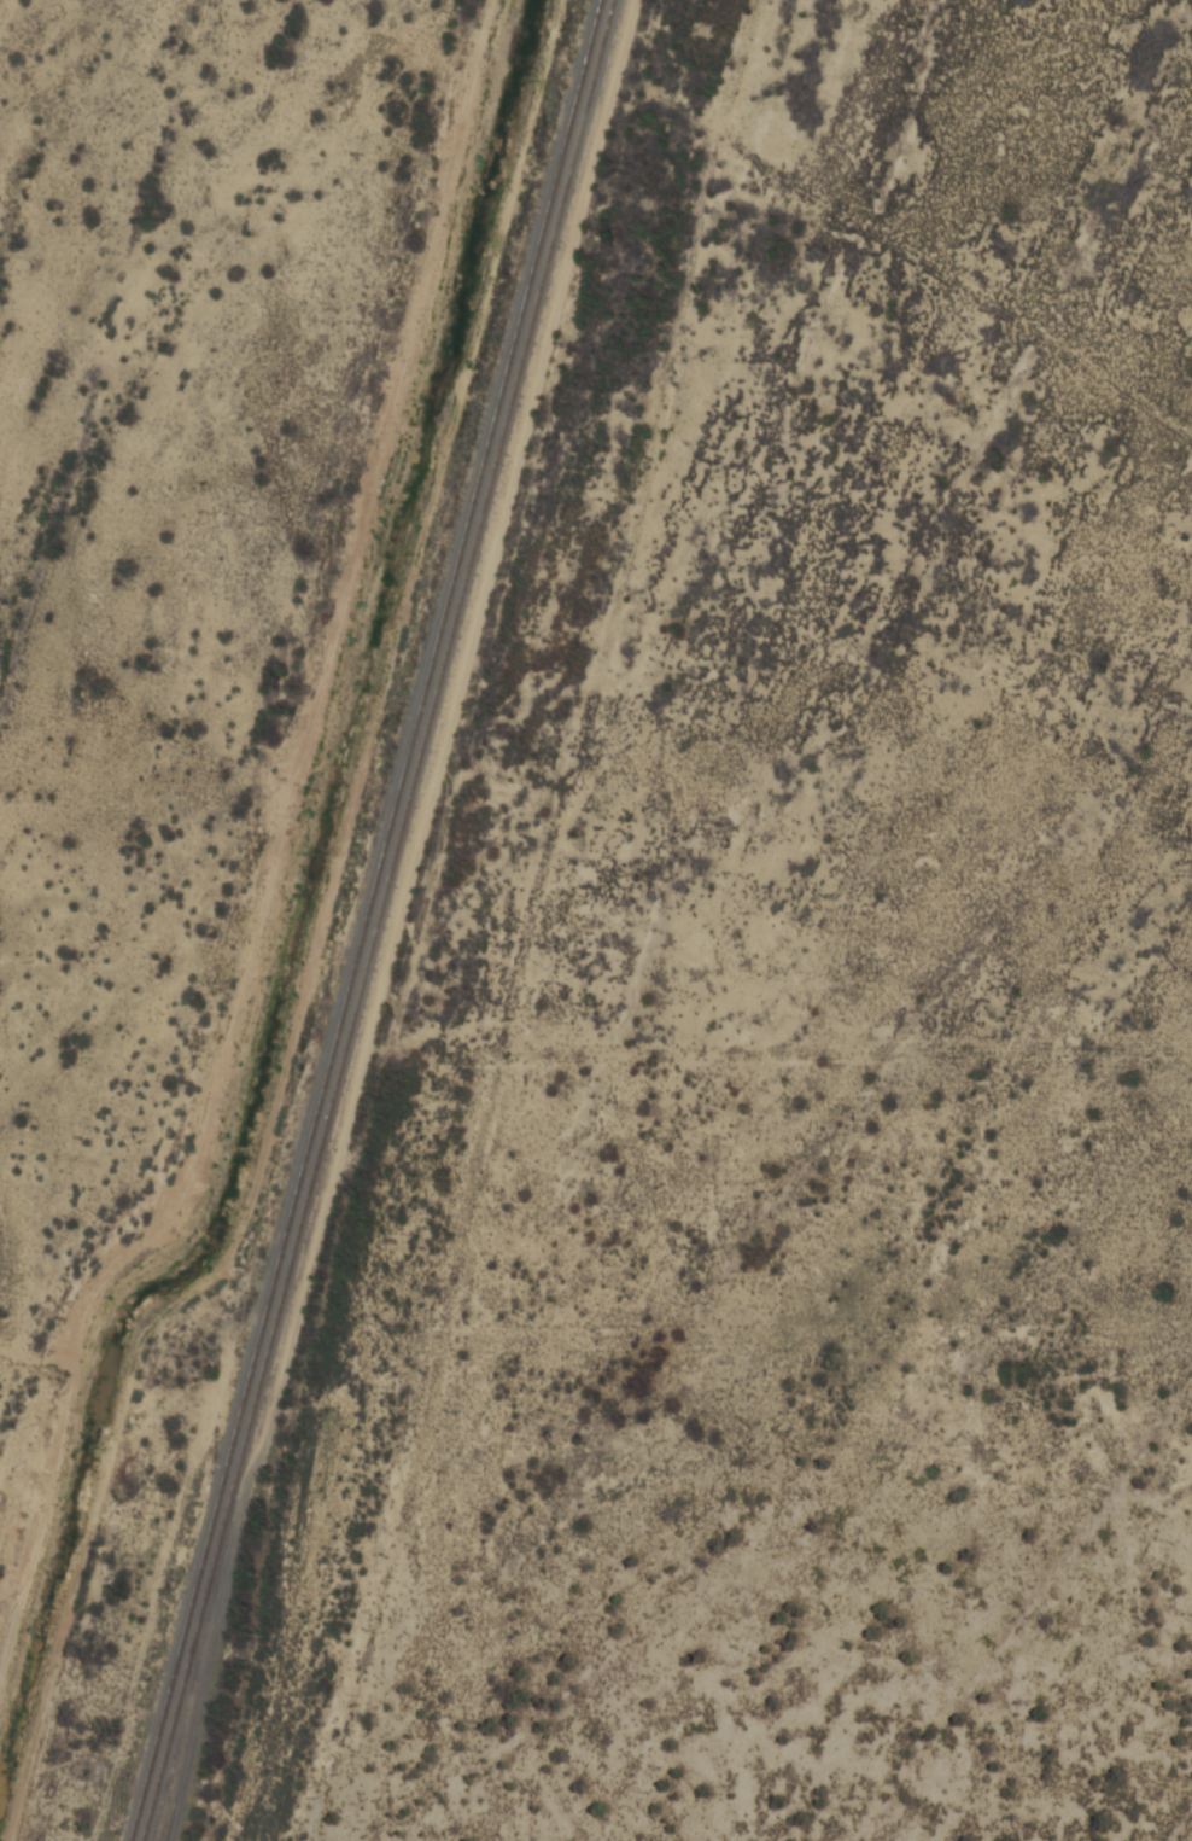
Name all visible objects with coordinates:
road: (980, 367)
road: (276, 861)
road: (582, 915)
road: (462, 919)
railway: (367, 920)
railway: (379, 920)
road: (37, 1358)

